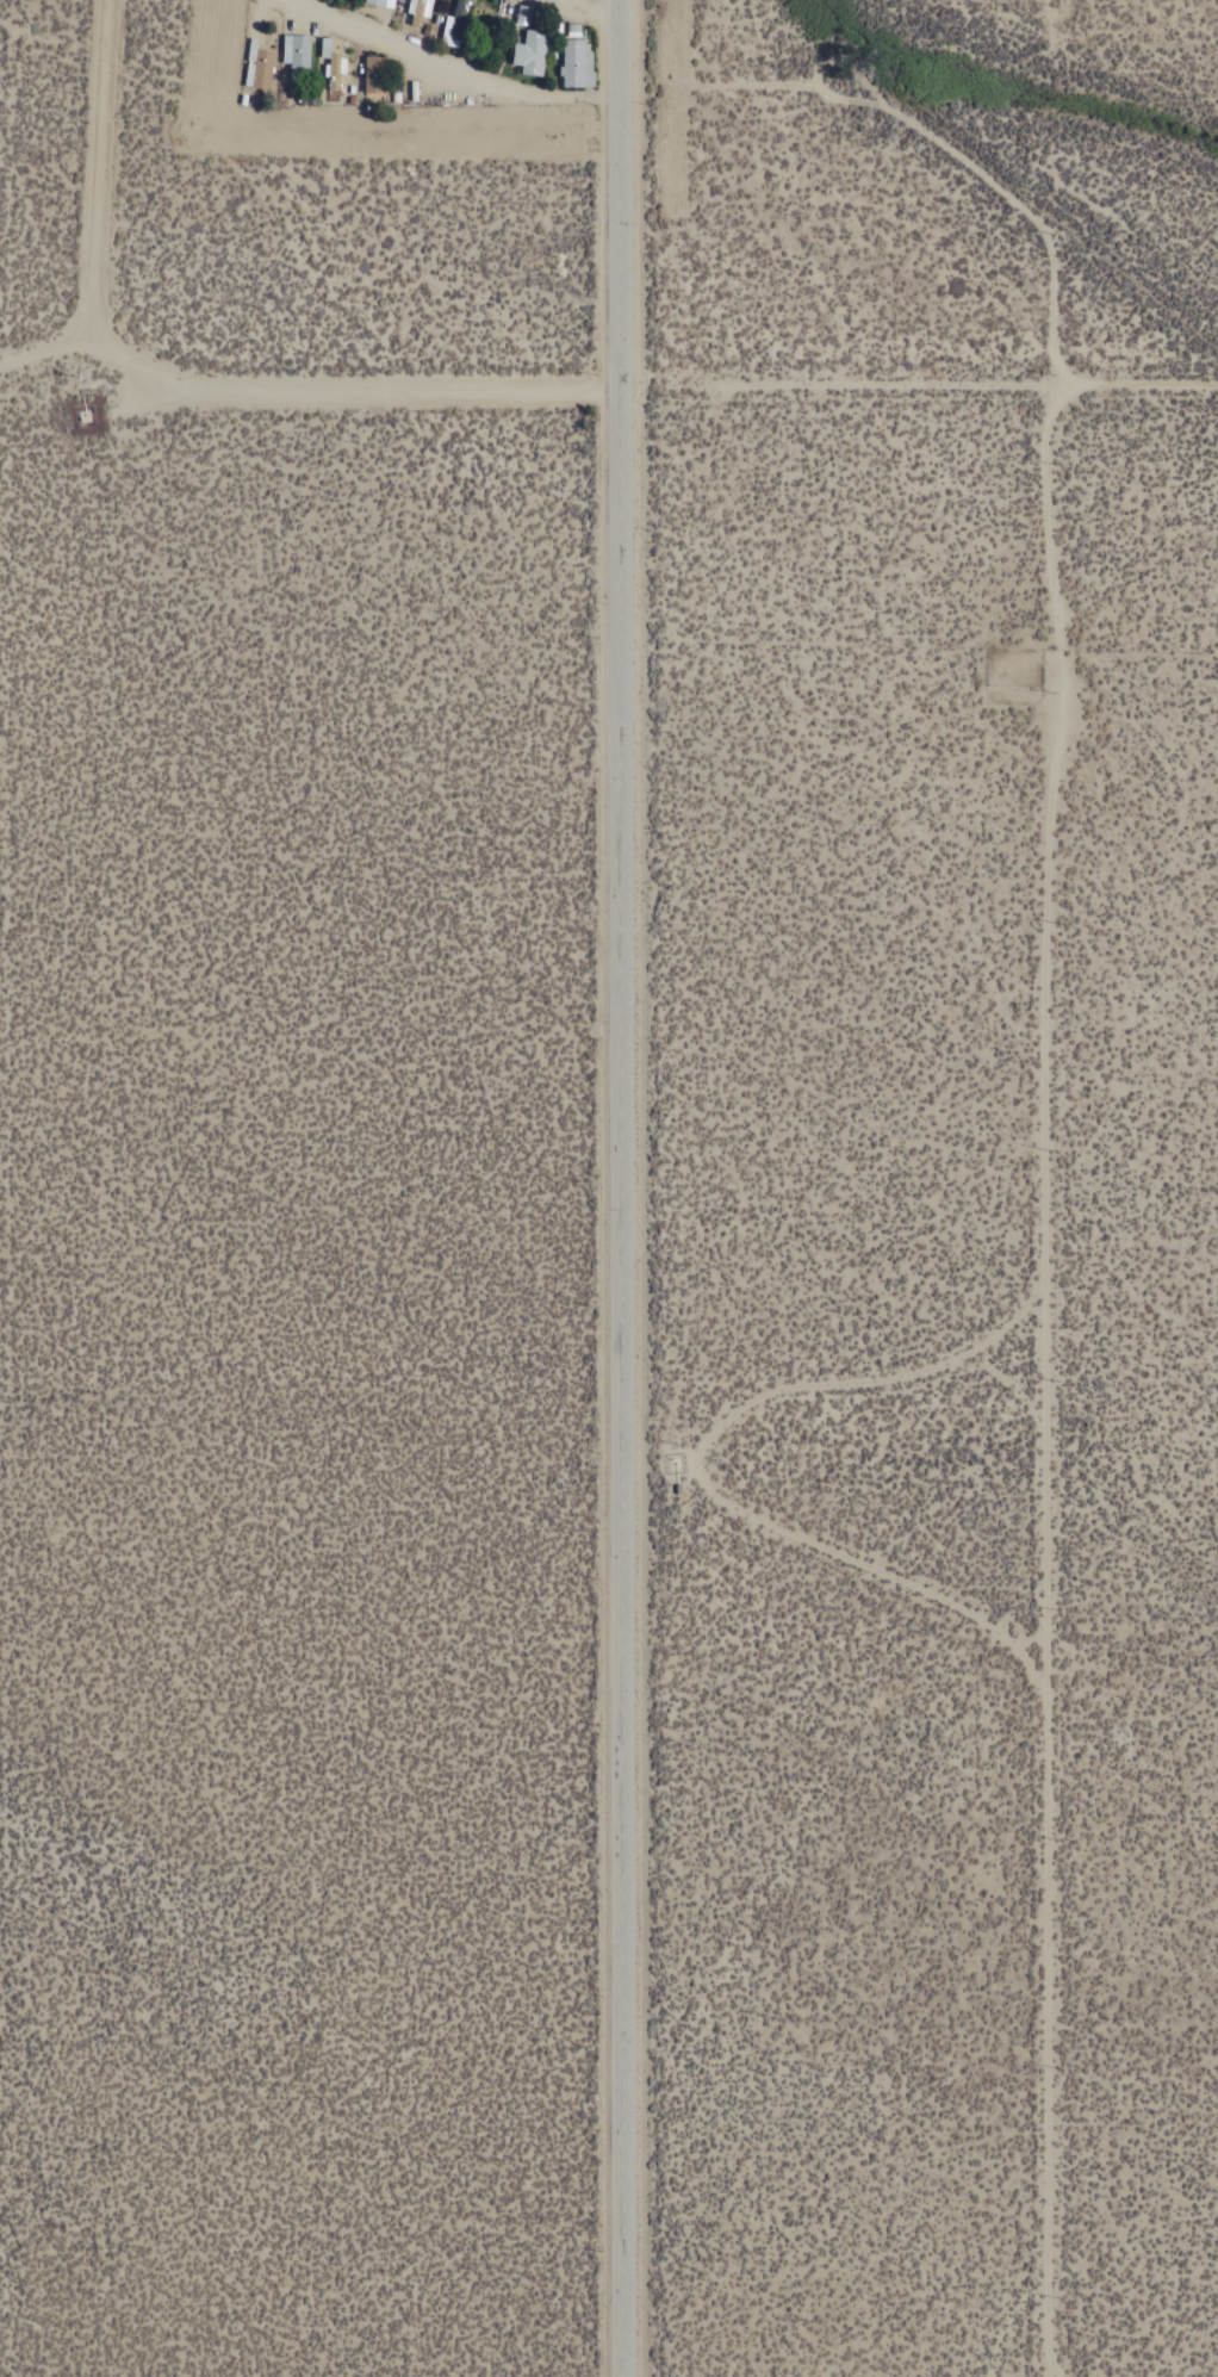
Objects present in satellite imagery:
building: (384, 1)
building: (374, 2)
road: (601, 8)
building: (415, 11)
building: (454, 19)
road: (1052, 23)
building: (298, 52)
building: (528, 52)
building: (574, 63)
building: (259, 69)
road: (464, 69)
building: (331, 72)
building: (372, 76)
road: (106, 172)
road: (311, 390)
road: (845, 391)
road: (1138, 391)
road: (632, 1187)
road: (1057, 1383)
road: (891, 1390)

